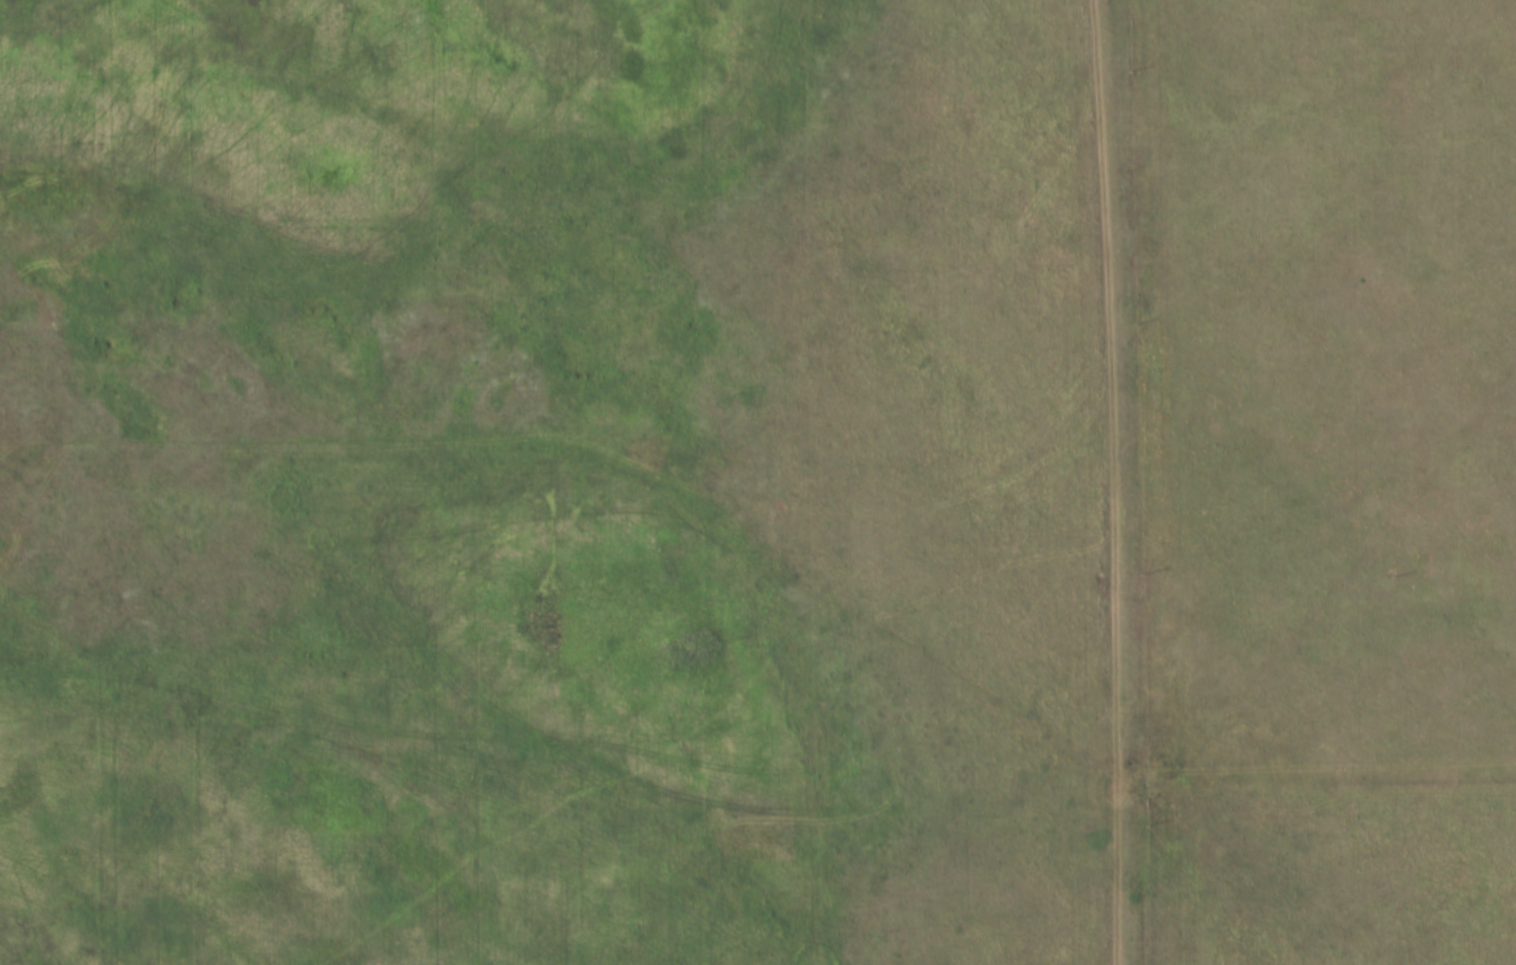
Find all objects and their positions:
road: (1114, 482)

